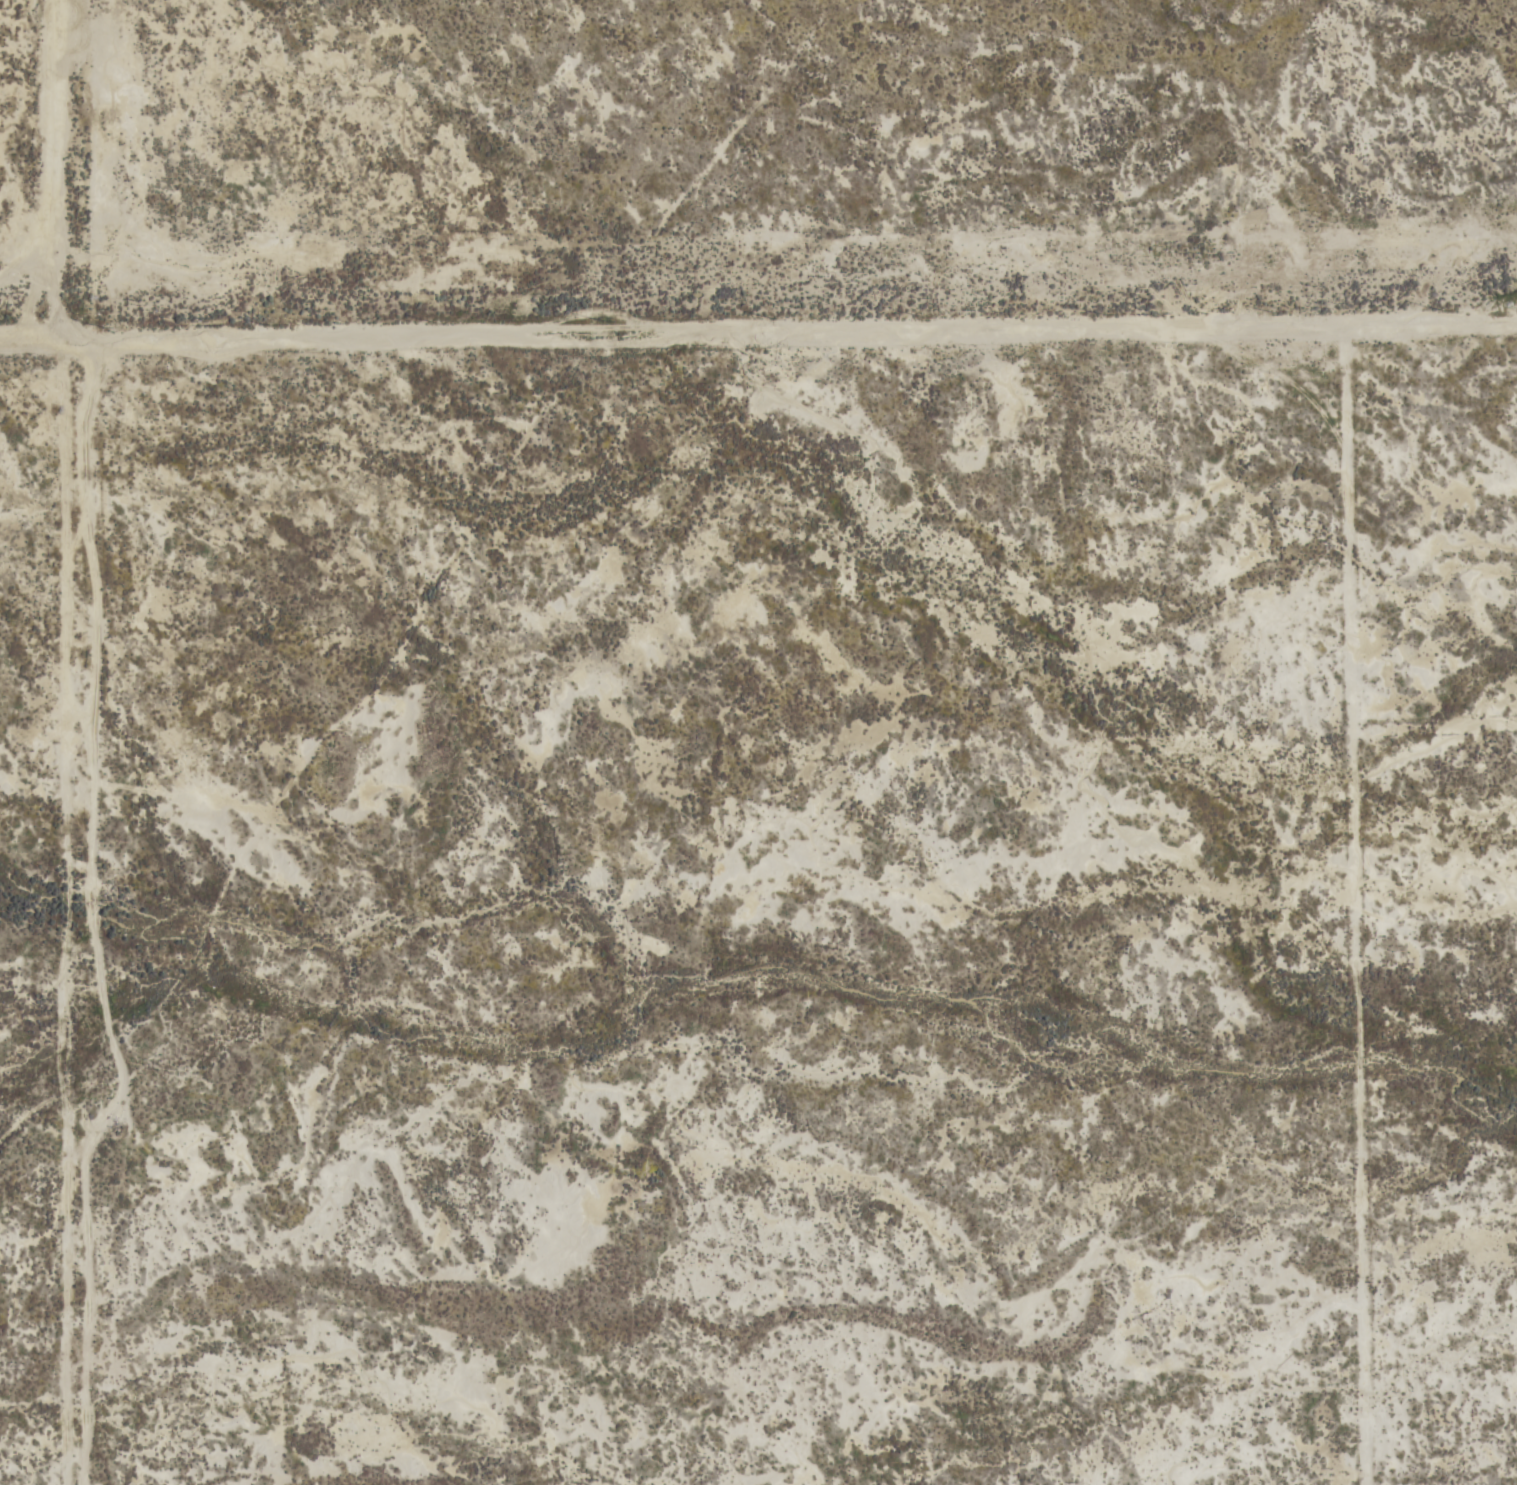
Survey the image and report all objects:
road: (758, 310)
road: (86, 749)
crop: (52, 901)

